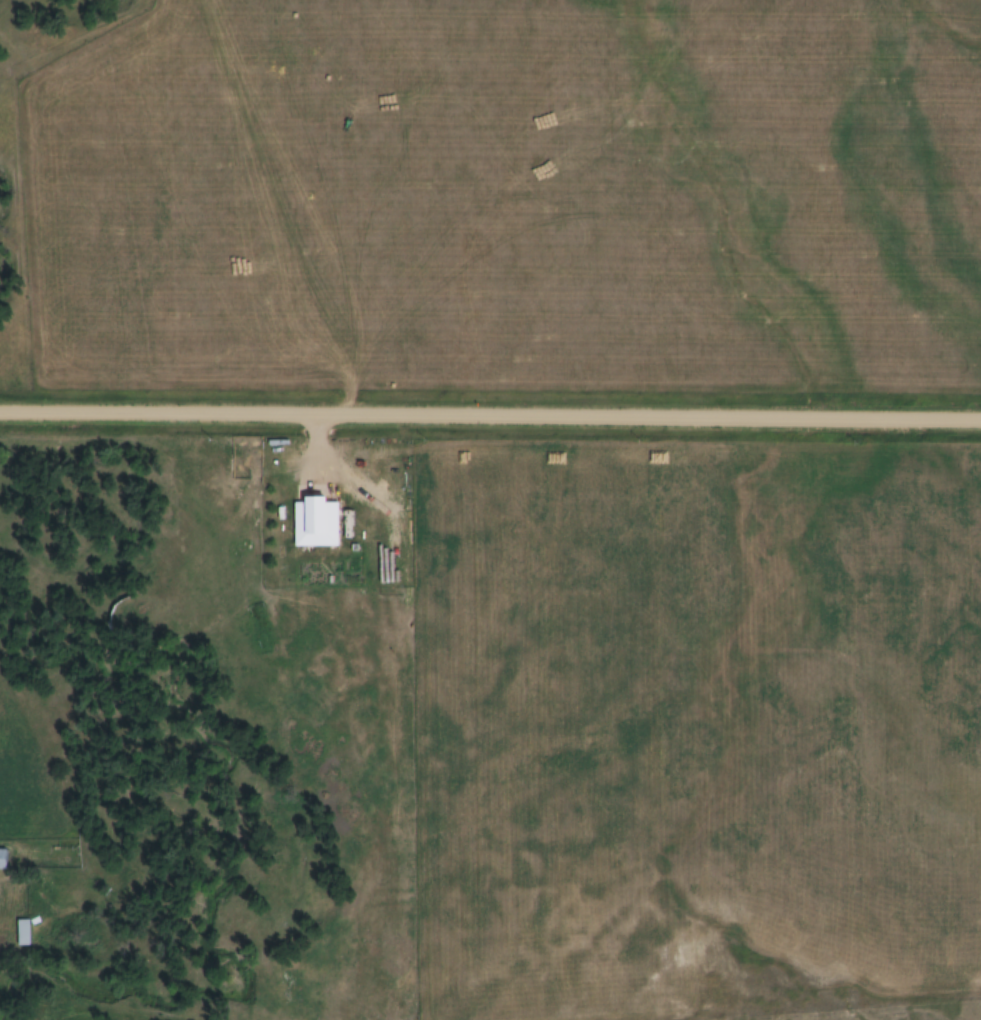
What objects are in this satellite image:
road: (490, 416)
building: (313, 523)
building: (2, 860)
building: (20, 933)

